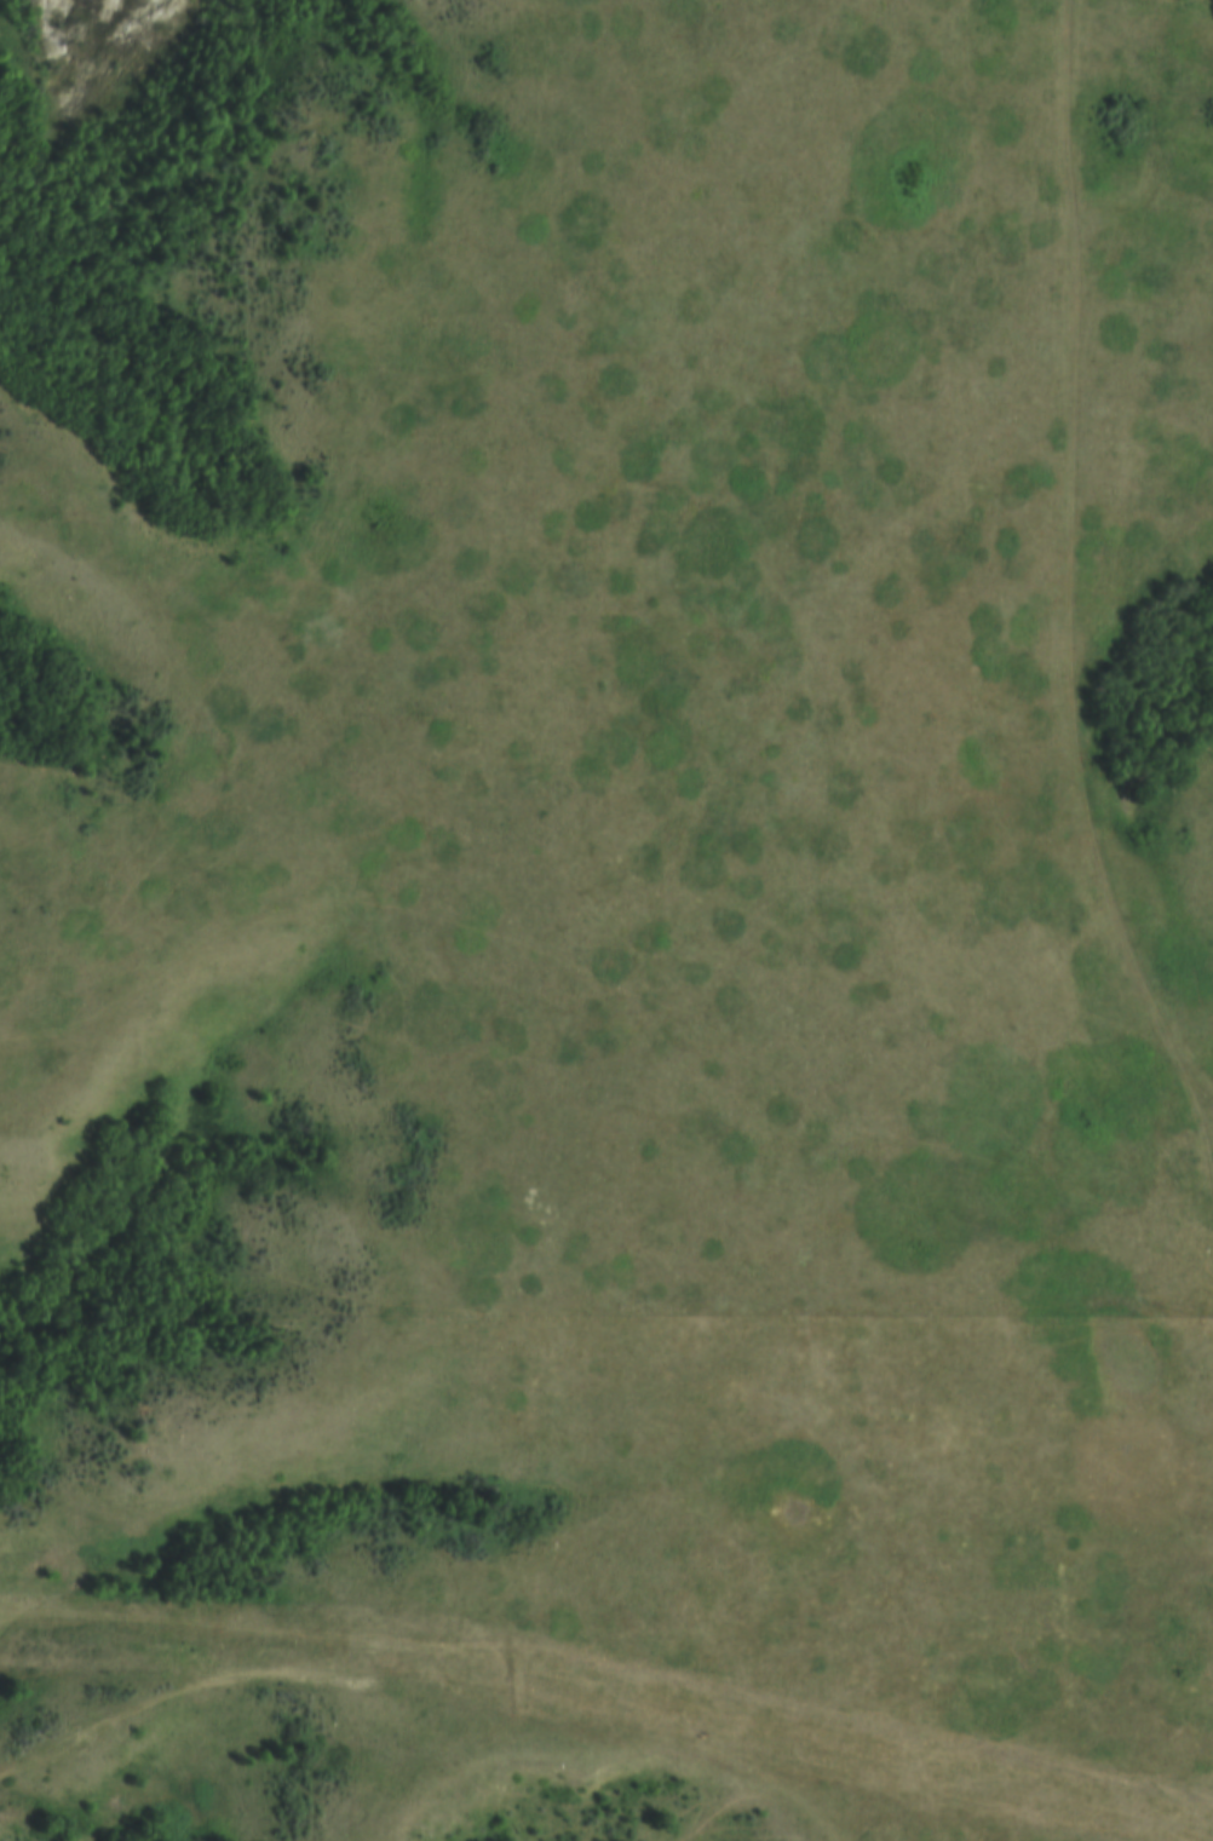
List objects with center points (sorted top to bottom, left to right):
road: (1073, 564)

